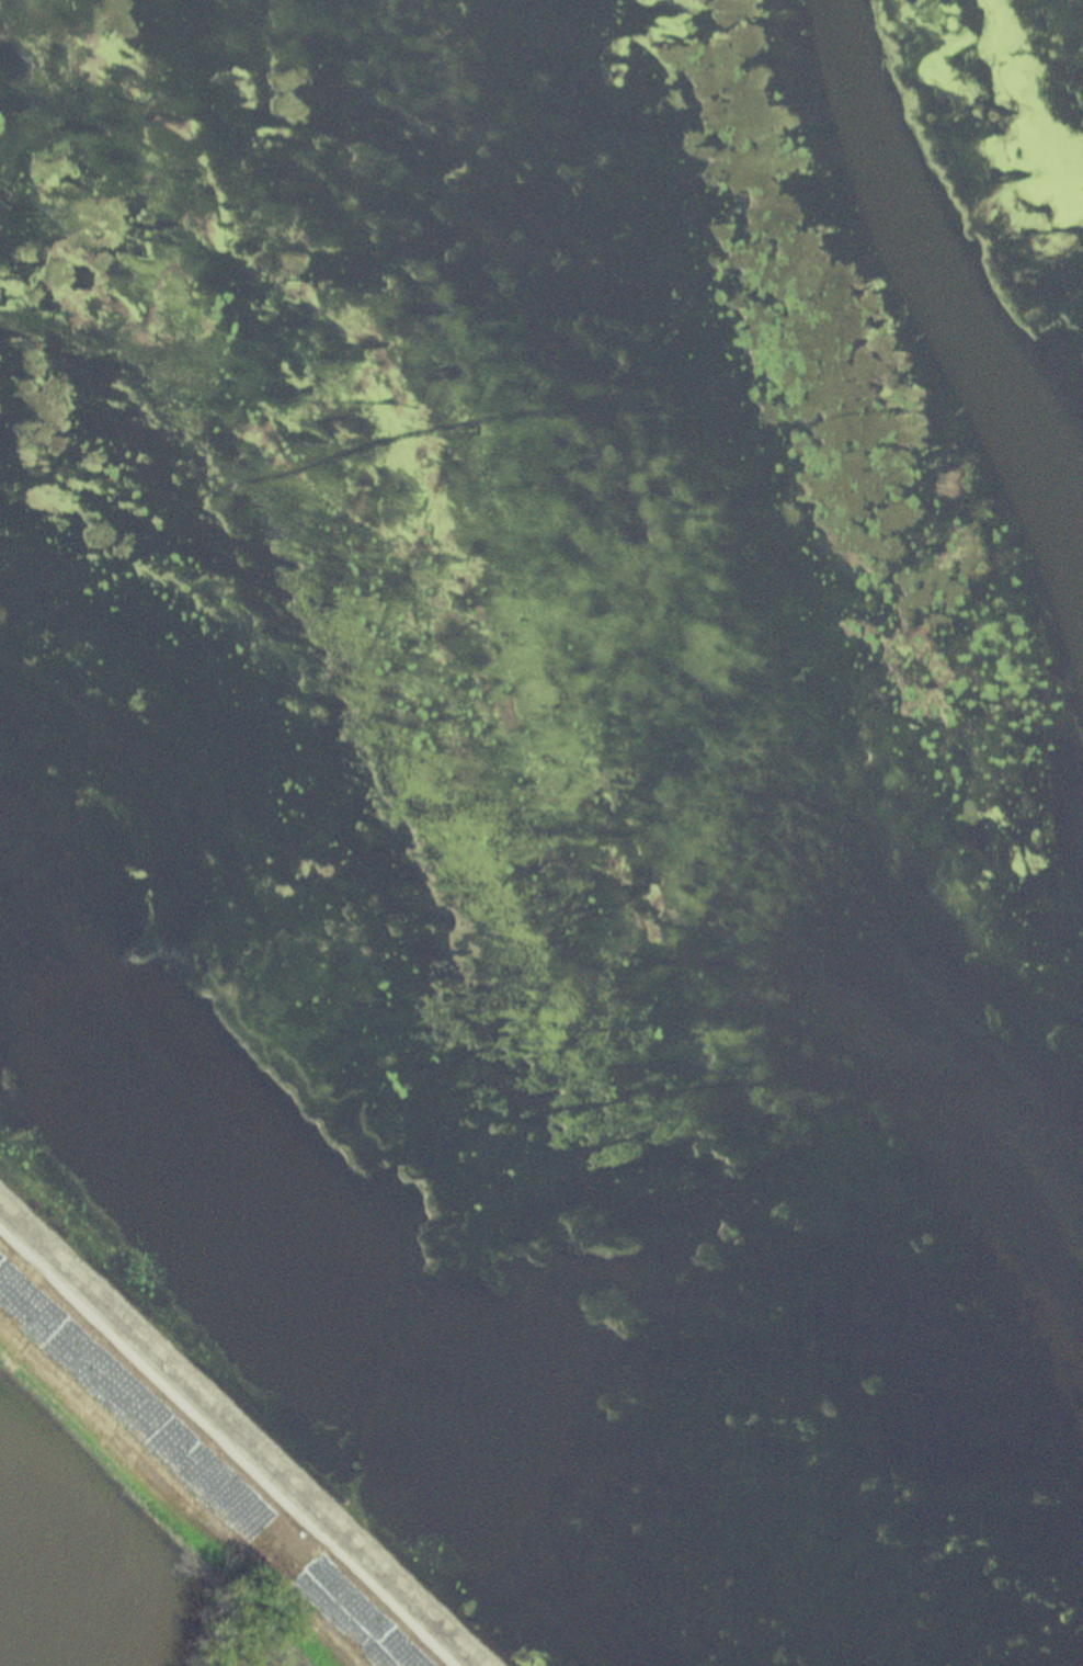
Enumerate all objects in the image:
dam: (216, 1458)

